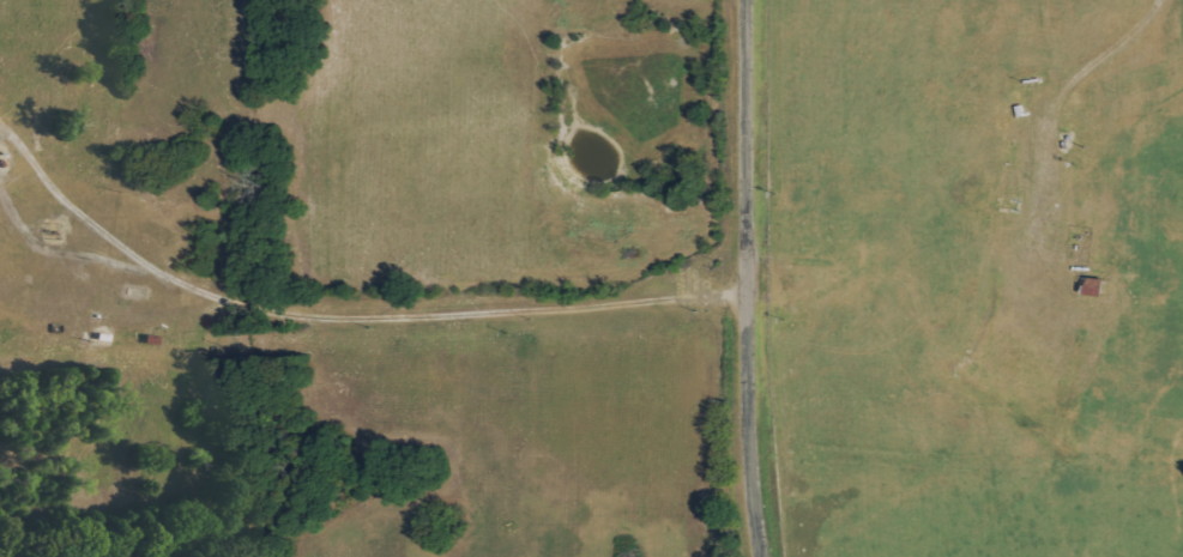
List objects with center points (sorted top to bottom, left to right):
road: (756, 278)

